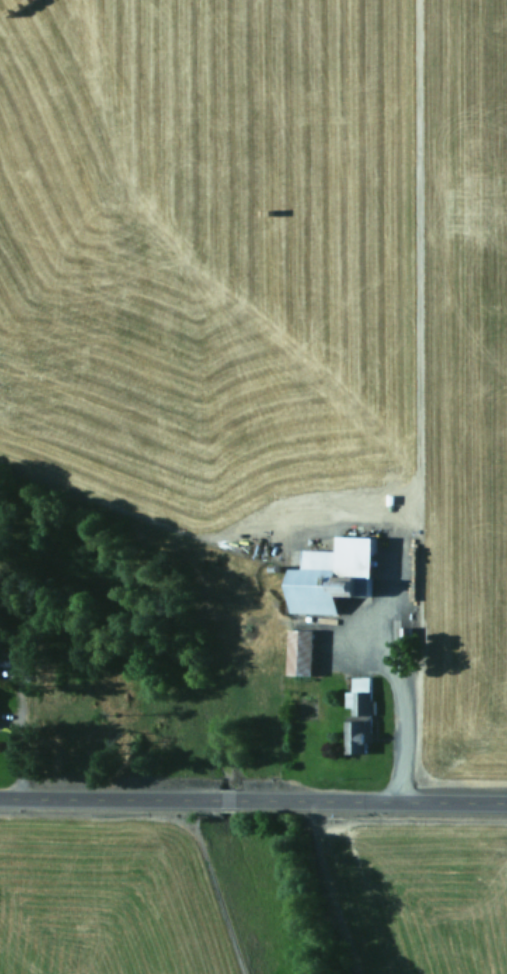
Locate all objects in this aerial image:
crop: (271, 284)
building: (330, 575)
building: (299, 652)
building: (358, 716)
road: (253, 798)
crop: (252, 894)

